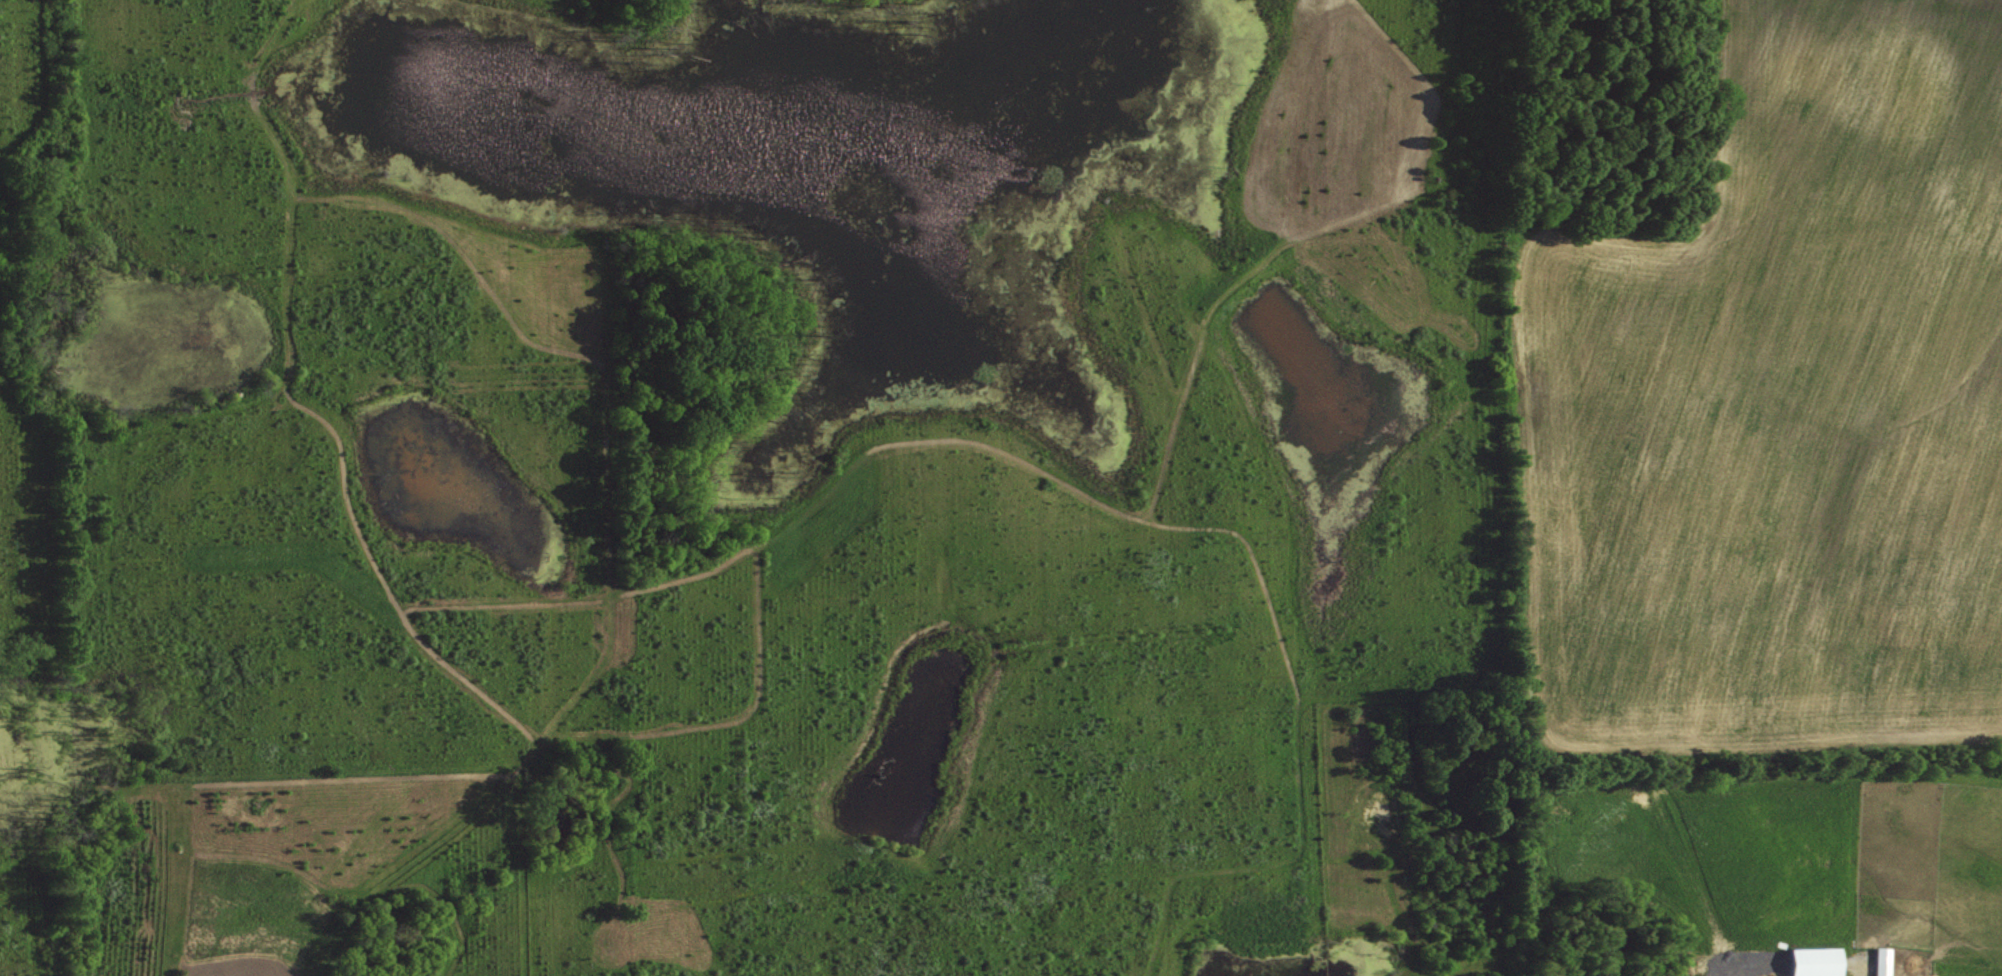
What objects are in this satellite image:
building: (1815, 960)
building: (1882, 960)

